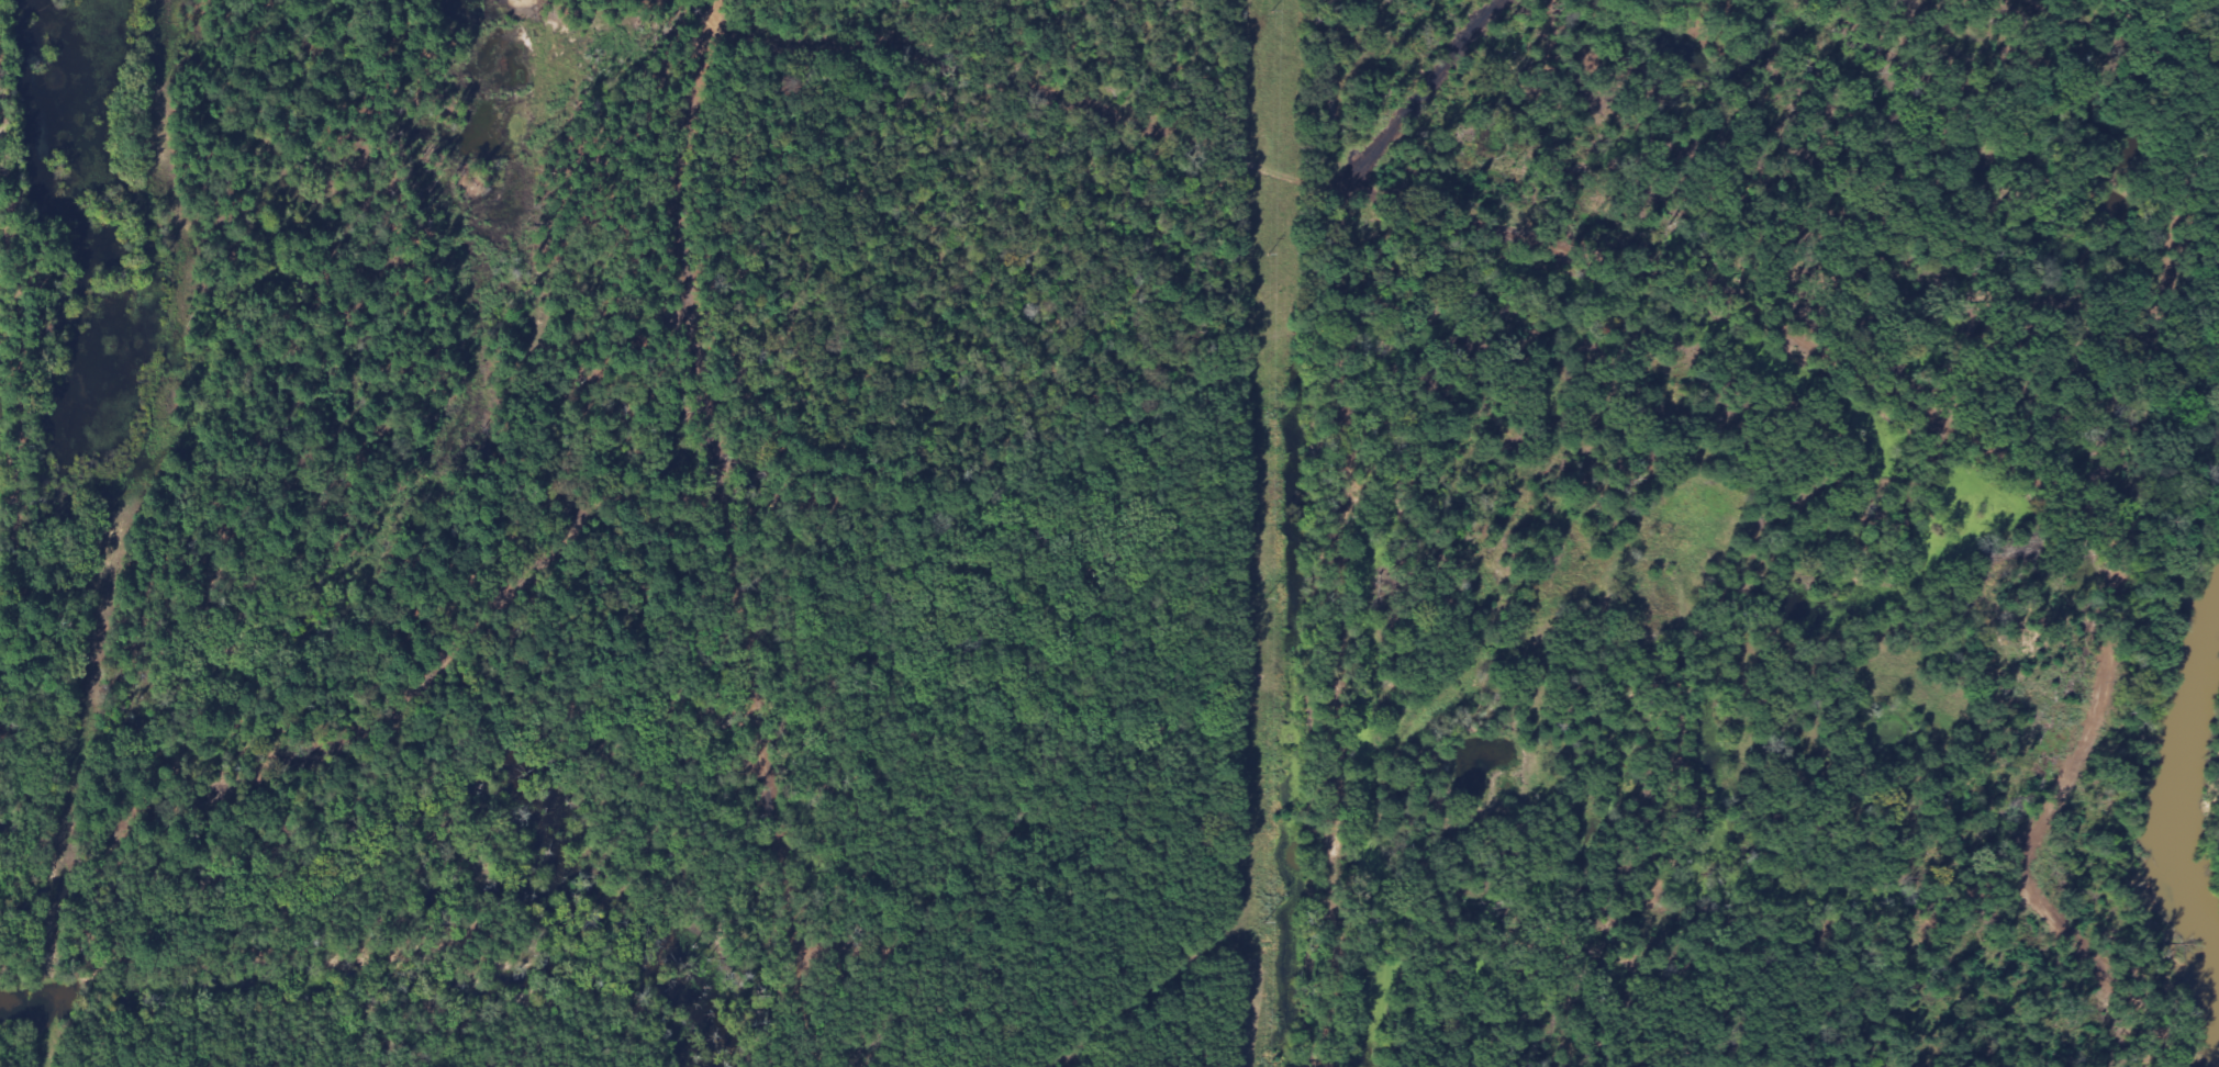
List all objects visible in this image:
road: (726, 533)
river: (2184, 798)

